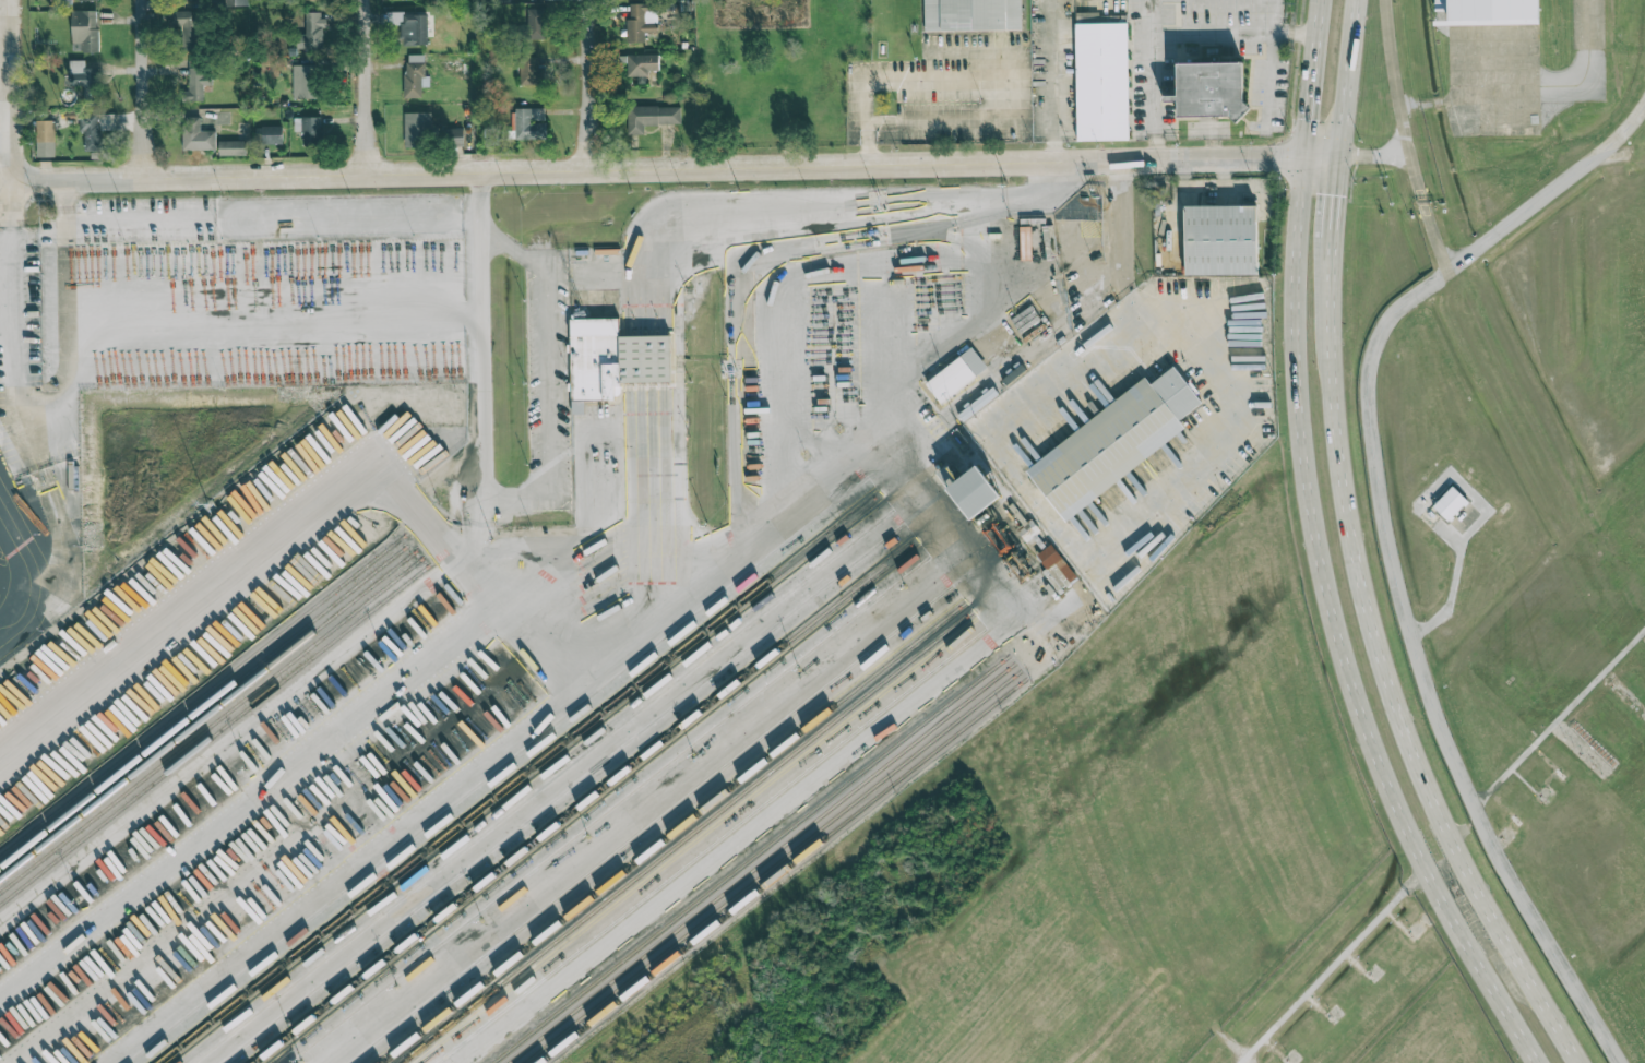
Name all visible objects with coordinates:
building: (87, 0)
building: (189, 0)
building: (501, 1)
building: (62, 2)
building: (238, 2)
building: (1499, 13)
building: (975, 16)
building: (642, 21)
building: (532, 25)
building: (414, 29)
building: (84, 31)
building: (188, 31)
building: (311, 32)
road: (1213, 38)
road: (1271, 46)
airport taxiway: (1589, 62)
building: (641, 64)
building: (528, 70)
road: (588, 71)
road: (366, 73)
building: (415, 74)
building: (83, 75)
road: (140, 76)
road: (1345, 76)
road: (1155, 80)
road: (1051, 81)
building: (1105, 81)
airport apron: (1497, 81)
building: (305, 82)
building: (198, 84)
building: (1217, 85)
road: (8, 92)
road: (1402, 99)
building: (651, 117)
road: (867, 119)
building: (531, 123)
building: (95, 129)
building: (417, 129)
building: (309, 130)
road: (4, 131)
building: (198, 132)
building: (271, 134)
building: (490, 134)
building: (45, 139)
building: (233, 147)
road: (1374, 154)
traffic signals: (1337, 155)
traffic signals: (1312, 156)
road: (589, 157)
road: (368, 162)
road: (1004, 163)
road: (141, 167)
road: (341, 177)
road: (879, 193)
road: (1334, 196)
road: (67, 203)
road: (277, 218)
road: (1435, 234)
building: (1220, 240)
road: (7, 261)
road: (15, 306)
road: (273, 318)
road: (487, 336)
road: (548, 343)
building: (613, 358)
building: (961, 373)
building: (577, 407)
road: (63, 414)
building: (1122, 439)
road: (582, 456)
road: (412, 478)
road: (842, 478)
building: (981, 489)
road: (537, 495)
road: (1166, 495)
building: (1454, 505)
road: (487, 525)
building: (1032, 527)
road: (1386, 546)
airport: (1488, 552)
road: (1326, 553)
building: (1061, 570)
road: (23, 576)
road: (1452, 600)
road: (195, 604)
road: (524, 650)
road: (977, 650)
road: (1391, 671)
railway: (208, 693)
road: (286, 696)
railway: (212, 703)
railway: (215, 713)
road: (1559, 718)
railway: (218, 722)
railway: (222, 729)
railway: (515, 784)
road: (269, 786)
railway: (586, 802)
railway: (677, 834)
railway: (684, 837)
road: (429, 939)
road: (1335, 962)

